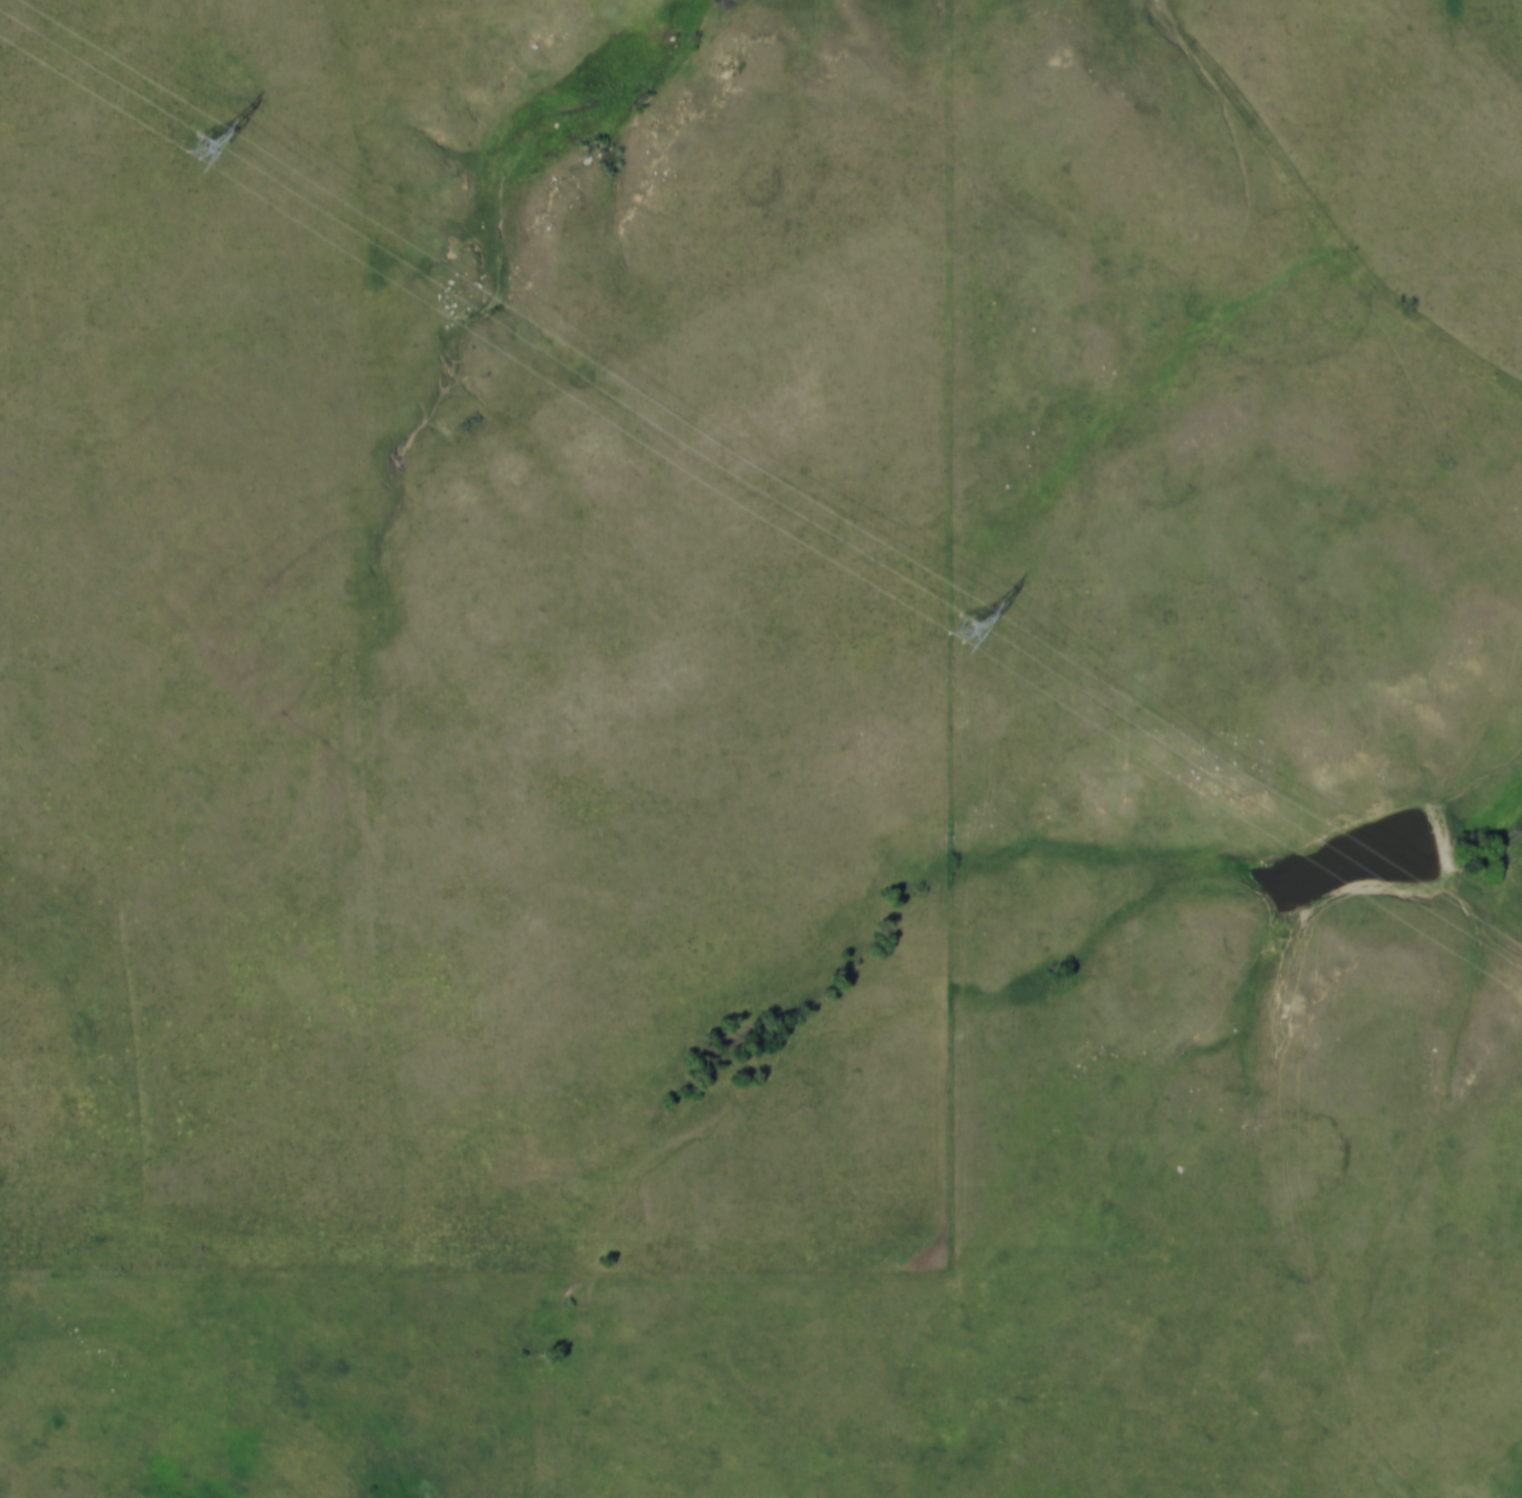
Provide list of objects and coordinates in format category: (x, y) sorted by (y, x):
power tower: (198, 146)
power tower: (960, 626)

